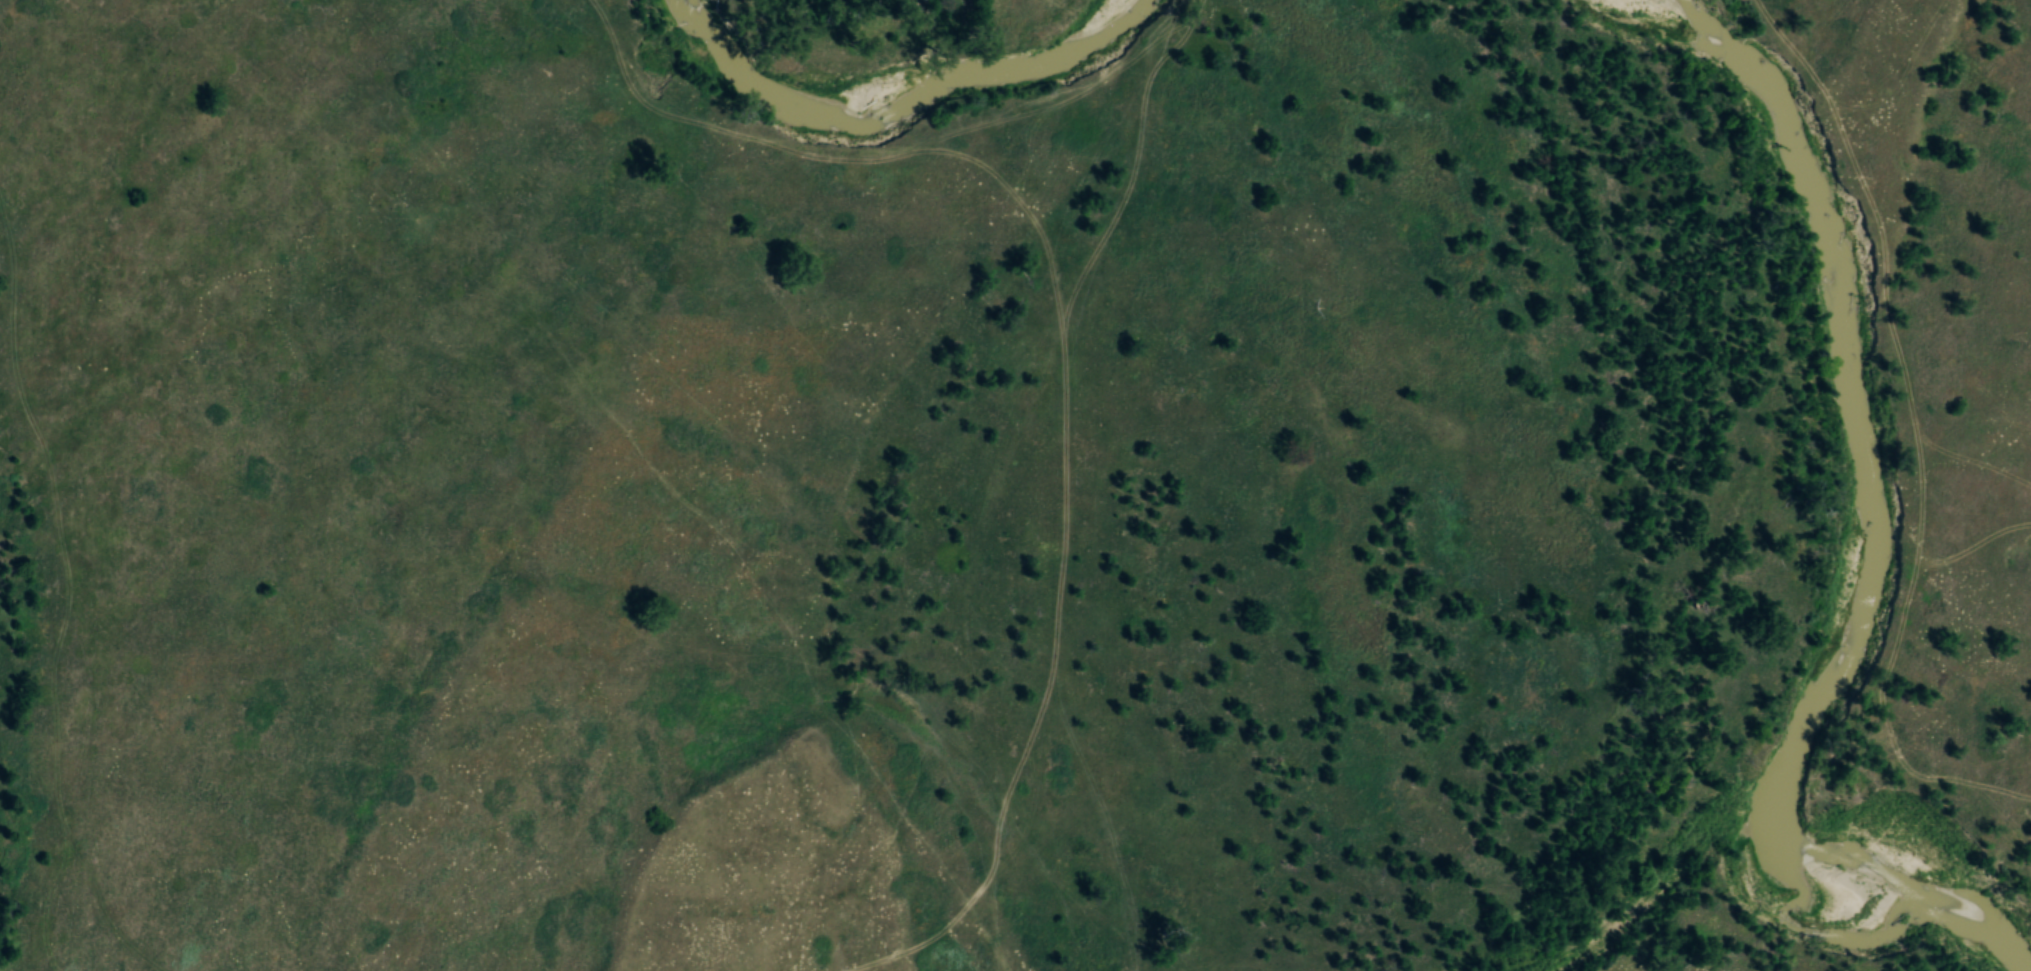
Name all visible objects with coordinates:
river: (879, 86)
river: (1841, 596)
river: (1666, 874)

